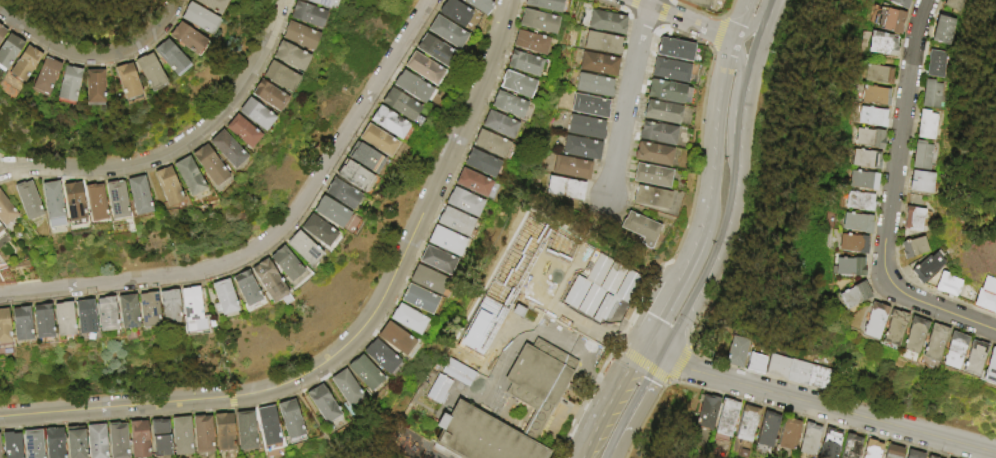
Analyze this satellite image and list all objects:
building: (318, 2)
building: (207, 3)
building: (543, 3)
building: (697, 3)
building: (900, 3)
building: (953, 4)
building: (478, 6)
road: (727, 7)
building: (303, 12)
building: (192, 13)
building: (453, 13)
park: (81, 18)
building: (536, 18)
road: (742, 19)
building: (891, 19)
road: (684, 20)
building: (606, 23)
road: (765, 23)
building: (1, 30)
building: (942, 30)
building: (178, 31)
building: (295, 32)
building: (445, 32)
road: (717, 34)
building: (529, 39)
building: (4, 40)
building: (880, 41)
building: (602, 43)
road: (746, 43)
building: (674, 50)
building: (434, 51)
building: (163, 52)
road: (89, 53)
building: (286, 53)
building: (13, 57)
building: (522, 60)
building: (23, 63)
building: (935, 64)
building: (599, 65)
building: (141, 66)
building: (423, 69)
building: (36, 71)
building: (671, 71)
building: (276, 73)
building: (875, 73)
building: (117, 74)
building: (44, 75)
building: (126, 80)
building: (59, 81)
building: (515, 81)
building: (84, 84)
building: (594, 85)
building: (411, 86)
road: (745, 89)
building: (265, 93)
building: (668, 93)
building: (872, 94)
building: (930, 94)
road: (627, 98)
building: (507, 102)
building: (400, 105)
building: (590, 107)
building: (252, 111)
building: (662, 113)
building: (869, 115)
road: (717, 116)
building: (498, 122)
building: (389, 123)
building: (926, 125)
building: (586, 127)
building: (238, 128)
building: (657, 133)
building: (867, 136)
building: (377, 141)
building: (489, 141)
building: (224, 146)
road: (176, 147)
building: (582, 149)
building: (653, 154)
building: (921, 155)
building: (863, 157)
building: (364, 158)
building: (480, 161)
building: (204, 164)
road: (737, 165)
building: (572, 168)
building: (183, 174)
building: (353, 176)
building: (652, 176)
building: (861, 178)
building: (473, 181)
building: (920, 182)
building: (162, 184)
building: (565, 189)
building: (132, 194)
building: (341, 194)
building: (22, 198)
building: (46, 198)
building: (651, 198)
building: (110, 199)
building: (463, 199)
building: (857, 199)
road: (892, 199)
building: (68, 200)
building: (90, 201)
building: (4, 211)
road: (743, 214)
building: (334, 215)
building: (454, 218)
building: (913, 218)
building: (855, 221)
building: (640, 227)
building: (0, 228)
building: (317, 231)
building: (540, 233)
road: (272, 235)
building: (444, 238)
building: (851, 242)
building: (914, 247)
building: (302, 249)
building: (577, 252)
building: (435, 257)
building: (284, 264)
road: (662, 264)
building: (847, 264)
building: (927, 267)
building: (607, 270)
building: (519, 271)
road: (683, 272)
building: (426, 277)
building: (264, 279)
road: (704, 279)
building: (947, 285)
building: (242, 287)
building: (625, 289)
building: (852, 293)
building: (987, 295)
building: (219, 296)
building: (416, 296)
building: (166, 306)
building: (144, 309)
building: (187, 309)
building: (123, 311)
building: (405, 315)
building: (80, 317)
building: (101, 317)
building: (58, 318)
building: (873, 318)
building: (493, 319)
building: (37, 323)
building: (16, 324)
building: (892, 326)
building: (2, 327)
building: (485, 332)
building: (913, 333)
building: (393, 335)
road: (353, 336)
building: (933, 340)
traffic signals: (642, 344)
building: (477, 346)
building: (952, 348)
road: (652, 350)
building: (737, 353)
building: (378, 354)
traffic signals: (663, 356)
building: (972, 356)
building: (467, 358)
road: (641, 362)
road: (676, 364)
building: (756, 365)
building: (989, 366)
building: (777, 368)
building: (363, 370)
building: (459, 373)
building: (797, 373)
building: (540, 377)
building: (818, 379)
building: (343, 385)
building: (439, 390)
road: (608, 399)
building: (321, 401)
road: (633, 406)
road: (828, 406)
building: (707, 413)
building: (727, 417)
building: (288, 418)
road: (644, 420)
building: (266, 422)
road: (316, 423)
building: (747, 423)
building: (243, 425)
building: (222, 429)
building: (768, 430)
building: (201, 431)
building: (159, 433)
building: (180, 433)
building: (788, 434)
building: (137, 437)
building: (479, 437)
building: (115, 439)
building: (809, 439)
building: (94, 440)
building: (51, 442)
building: (72, 442)
building: (8, 443)
building: (30, 444)
building: (829, 444)
building: (851, 446)
building: (872, 449)
building: (893, 452)
building: (914, 454)
building: (931, 456)

